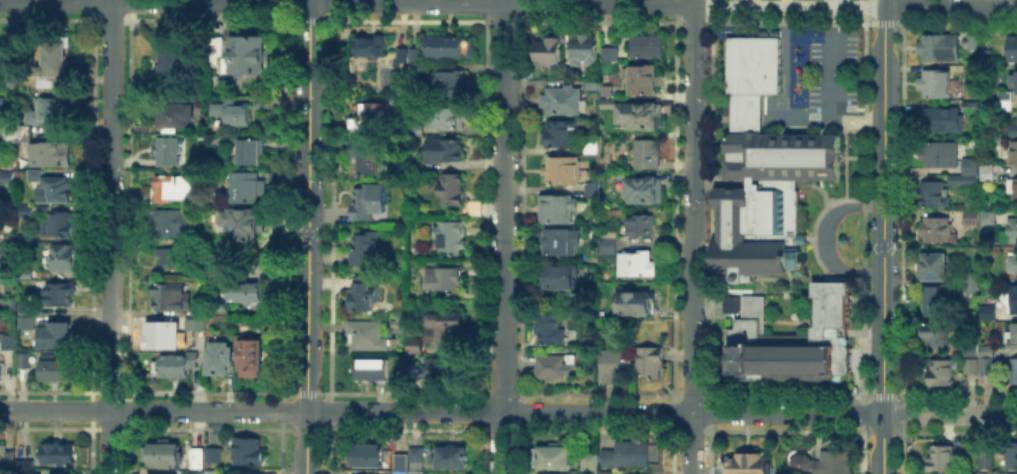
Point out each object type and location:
road: (309, 1)
road: (835, 2)
road: (346, 3)
road: (763, 4)
road: (859, 5)
road: (950, 5)
building: (972, 45)
building: (216, 47)
building: (366, 48)
building: (584, 48)
building: (647, 49)
building: (939, 49)
building: (443, 50)
building: (1013, 50)
building: (549, 52)
building: (606, 52)
building: (399, 53)
building: (412, 53)
building: (1, 57)
building: (247, 57)
building: (986, 57)
building: (174, 63)
building: (53, 67)
building: (419, 69)
parking lot: (827, 75)
building: (643, 82)
building: (1013, 82)
building: (448, 84)
road: (835, 86)
building: (935, 86)
building: (593, 87)
building: (609, 93)
building: (564, 102)
building: (1004, 103)
building: (607, 105)
building: (1, 106)
building: (971, 108)
building: (51, 112)
building: (232, 112)
building: (447, 114)
building: (174, 115)
building: (639, 116)
building: (370, 118)
building: (939, 119)
building: (416, 128)
building: (1014, 132)
building: (18, 135)
building: (559, 135)
building: (209, 139)
building: (443, 148)
building: (591, 149)
building: (168, 153)
building: (251, 153)
building: (0, 154)
building: (366, 155)
building: (646, 155)
building: (1014, 155)
building: (51, 156)
building: (938, 156)
building: (414, 162)
building: (970, 168)
building: (565, 171)
building: (760, 172)
building: (32, 173)
building: (987, 173)
building: (6, 177)
building: (964, 182)
building: (450, 188)
building: (53, 189)
building: (173, 189)
building: (249, 189)
building: (593, 190)
building: (645, 192)
building: (1016, 192)
building: (936, 196)
building: (371, 202)
building: (471, 206)
road: (308, 207)
building: (28, 211)
building: (558, 211)
building: (971, 218)
building: (989, 218)
building: (175, 224)
building: (640, 224)
building: (244, 225)
building: (61, 227)
building: (937, 231)
building: (1012, 232)
building: (609, 235)
road: (692, 236)
road: (883, 236)
road: (111, 237)
road: (503, 237)
road: (824, 238)
building: (453, 240)
building: (559, 244)
building: (367, 250)
building: (610, 250)
building: (10, 258)
building: (66, 260)
building: (176, 260)
building: (1014, 265)
building: (638, 267)
building: (933, 270)
building: (220, 271)
building: (29, 276)
building: (972, 279)
building: (562, 280)
building: (447, 283)
building: (246, 294)
building: (363, 295)
building: (60, 296)
building: (170, 299)
building: (1014, 301)
building: (729, 303)
building: (939, 303)
building: (635, 305)
building: (220, 307)
building: (26, 308)
building: (200, 310)
building: (988, 313)
building: (27, 323)
building: (194, 329)
building: (447, 329)
building: (551, 332)
building: (56, 337)
building: (370, 337)
building: (790, 338)
building: (935, 338)
building: (1013, 339)
building: (10, 344)
building: (415, 347)
road: (1008, 352)
building: (20, 358)
building: (221, 360)
building: (250, 360)
building: (980, 361)
building: (652, 362)
building: (614, 366)
building: (175, 367)
building: (555, 368)
building: (3, 371)
building: (55, 372)
building: (373, 372)
building: (440, 372)
building: (943, 374)
building: (1015, 374)
road: (153, 411)
road: (662, 412)
road: (306, 443)
building: (249, 452)
building: (624, 452)
building: (61, 455)
building: (163, 455)
building: (550, 455)
building: (1010, 455)
building: (215, 456)
building: (418, 456)
building: (939, 456)
building: (370, 457)
building: (451, 458)
building: (982, 458)
building: (197, 461)
building: (587, 461)
building: (403, 462)
building: (819, 463)
building: (19, 465)
building: (751, 465)
building: (192, 472)
building: (414, 472)
building: (603, 472)
building: (968, 472)
building: (57, 473)
building: (148, 473)
building: (214, 473)
building: (240, 473)
building: (551, 473)

